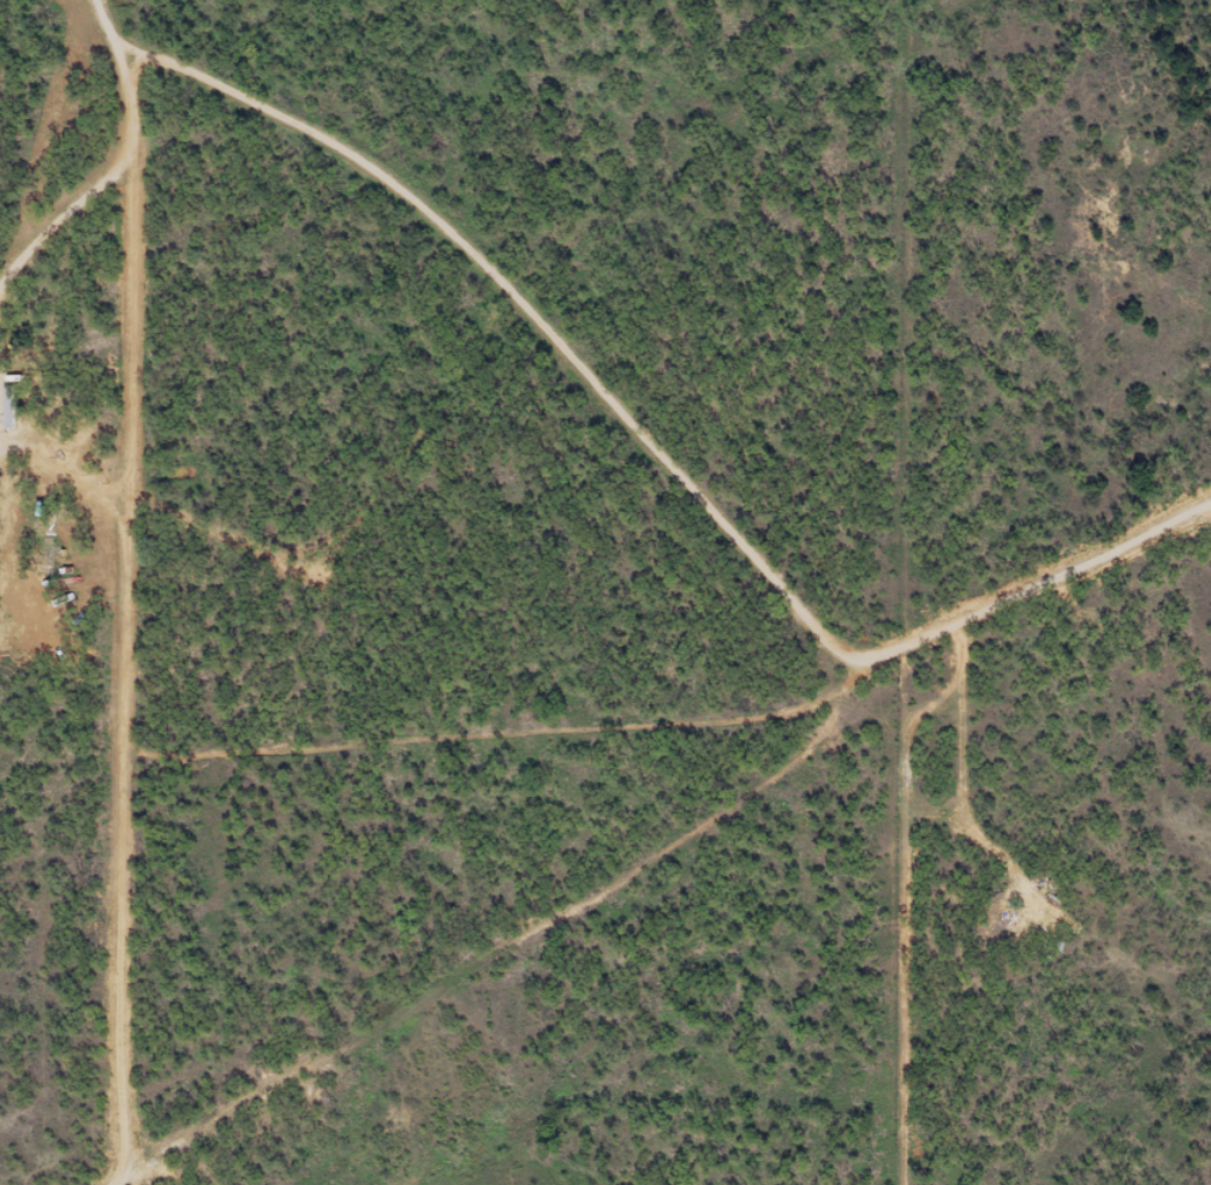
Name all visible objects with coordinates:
road: (855, 576)

